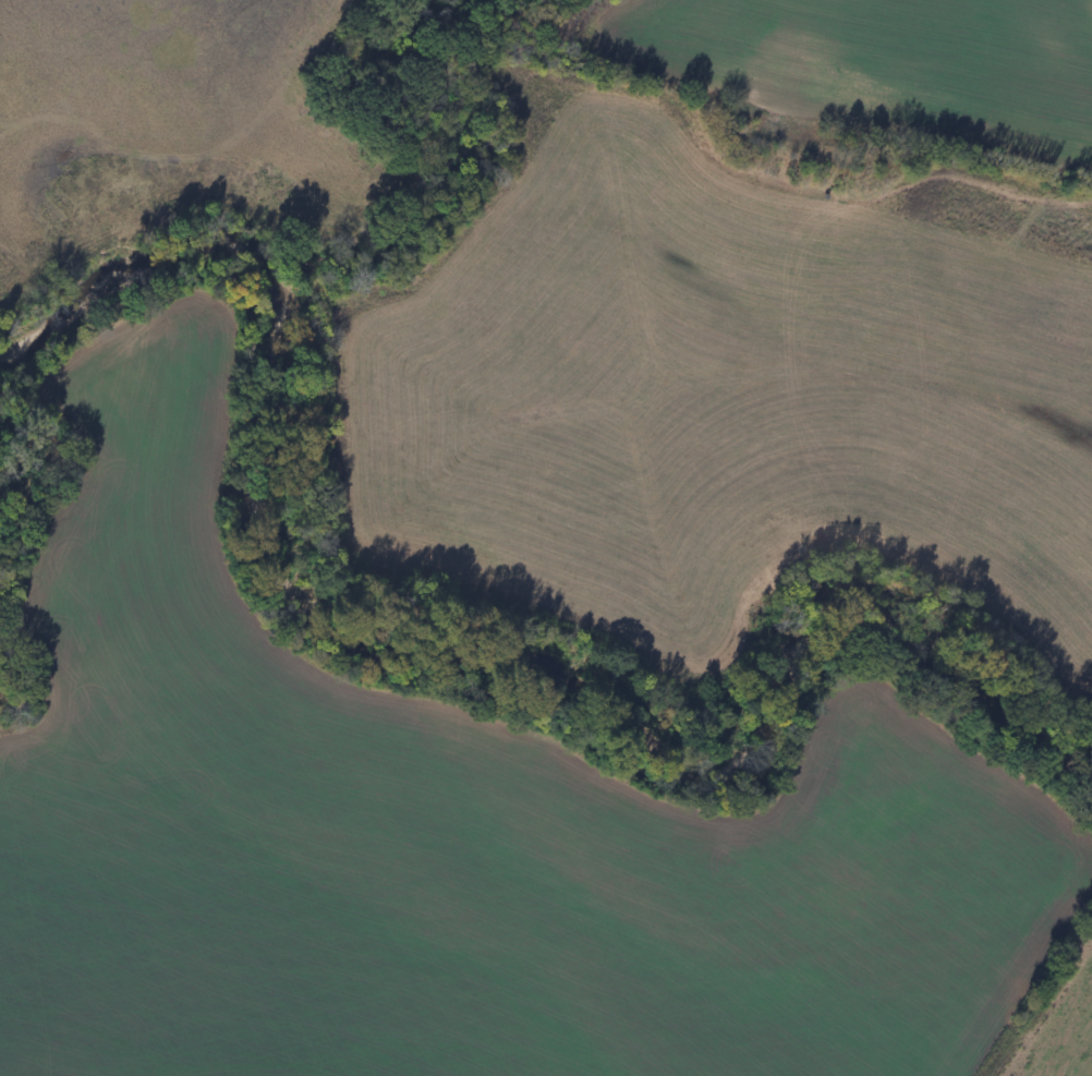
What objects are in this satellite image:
river: (474, 657)

